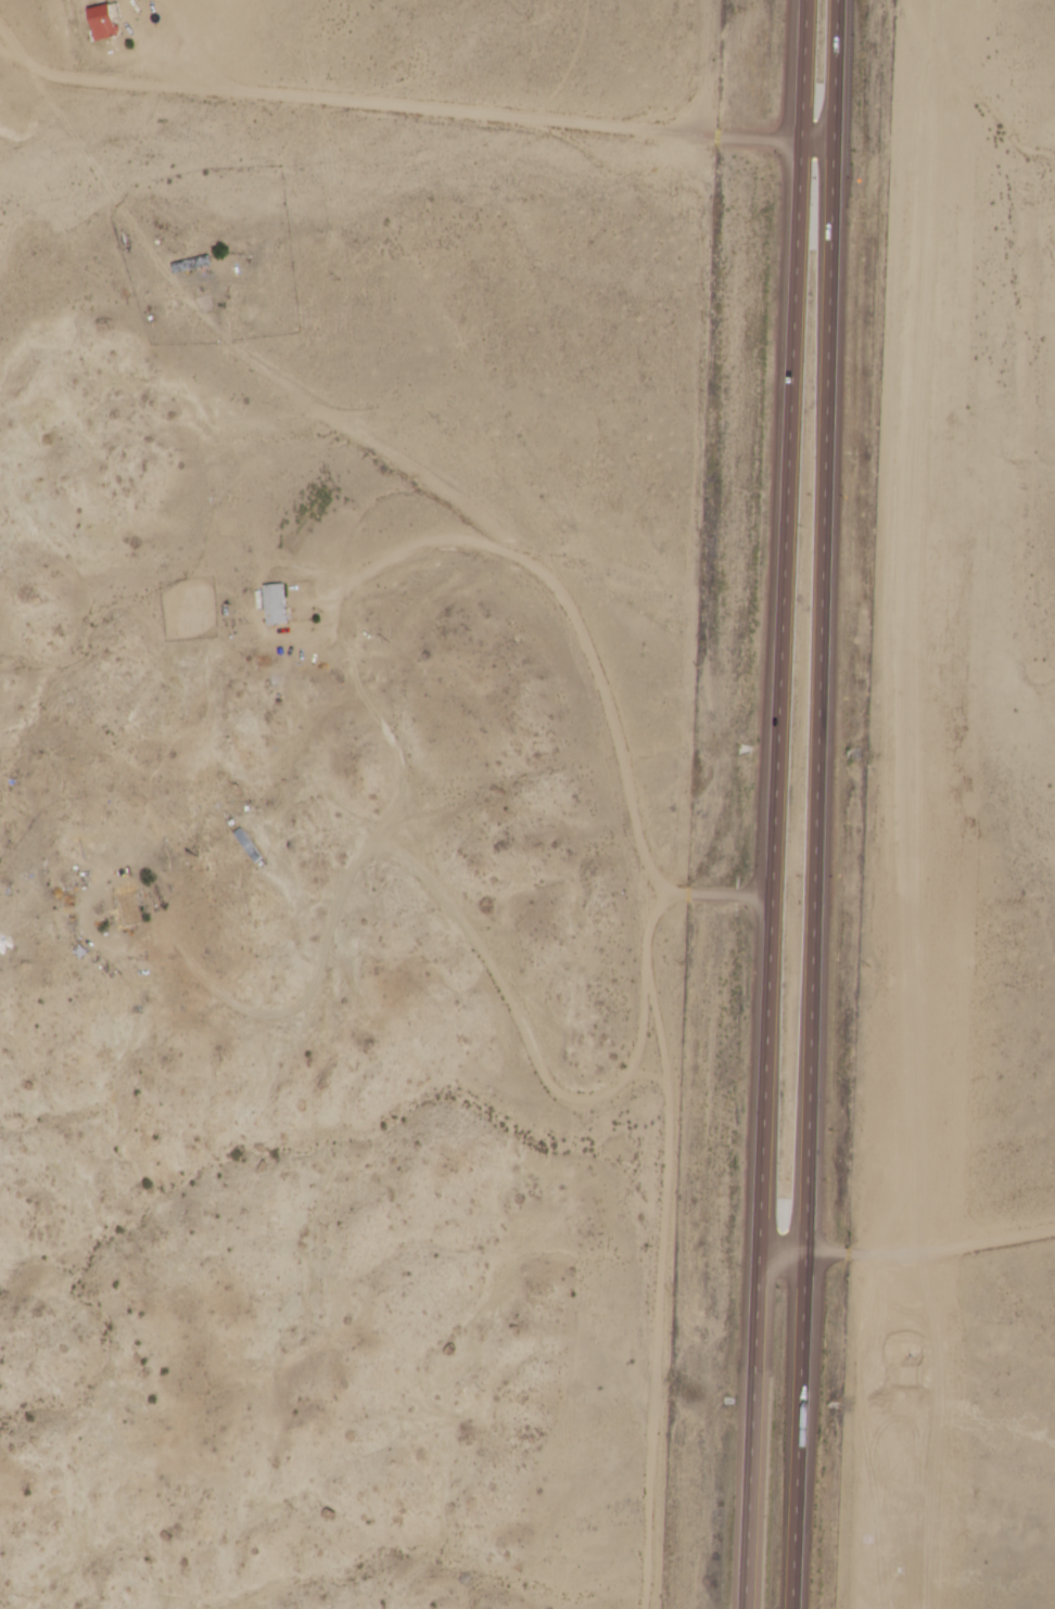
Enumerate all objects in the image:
building: (103, 22)
road: (393, 110)
road: (824, 151)
building: (275, 603)
road: (784, 804)
road: (824, 804)
road: (640, 817)
building: (246, 845)
building: (126, 907)
road: (487, 963)
road: (933, 1249)
road: (789, 1265)

